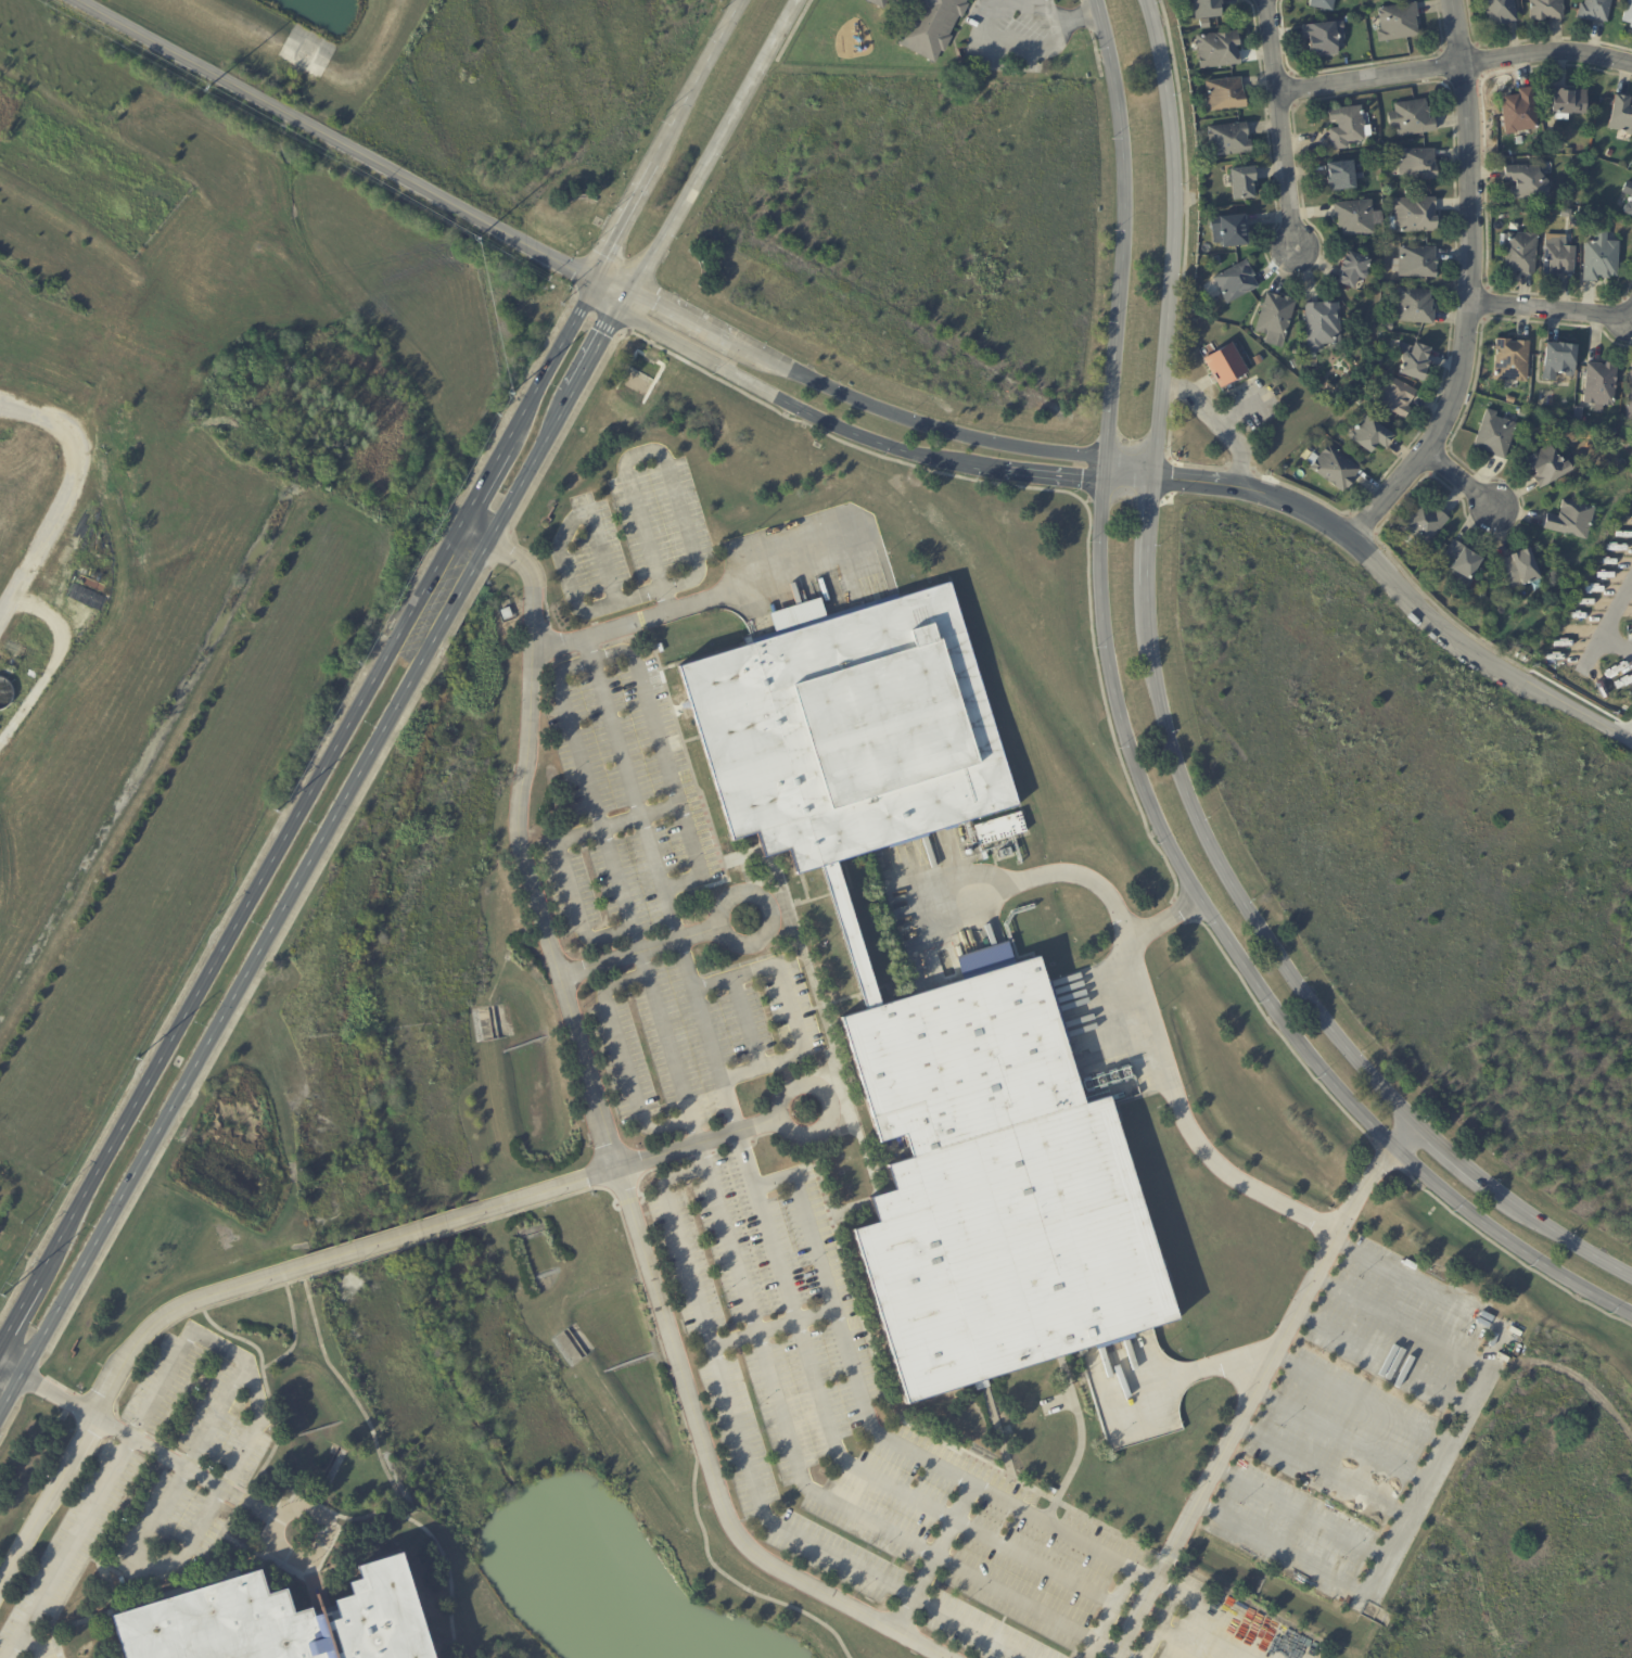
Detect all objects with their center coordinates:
building: (1323, 4)
building: (1546, 10)
building: (1595, 10)
building: (1204, 11)
building: (1502, 12)
building: (1629, 14)
road: (990, 15)
building: (1346, 21)
building: (1399, 23)
building: (928, 24)
building: (1631, 27)
building: (1324, 39)
building: (1219, 50)
road: (1455, 66)
building: (1226, 94)
building: (1570, 102)
building: (1520, 113)
building: (1622, 116)
building: (1413, 119)
road: (1282, 126)
building: (1347, 127)
road: (665, 140)
building: (1229, 140)
road: (329, 141)
building: (1570, 152)
building: (1610, 154)
road: (710, 156)
building: (1418, 164)
building: (1342, 177)
building: (1528, 181)
building: (1244, 183)
building: (1408, 191)
building: (1630, 202)
building: (1567, 214)
building: (1415, 216)
building: (1357, 218)
building: (1232, 231)
building: (1522, 255)
building: (1603, 259)
building: (1559, 260)
building: (1216, 262)
building: (1416, 263)
building: (1354, 271)
building: (1236, 282)
road: (1463, 286)
building: (1415, 307)
road: (1550, 315)
building: (1276, 320)
building: (1323, 327)
building: (1388, 327)
building: (1208, 350)
building: (1258, 360)
building: (1513, 361)
building: (1559, 362)
building: (1295, 364)
building: (1416, 364)
building: (1226, 366)
building: (1382, 367)
building: (1601, 386)
building: (1398, 399)
road: (864, 401)
building: (1360, 401)
building: (1512, 401)
building: (1630, 403)
building: (1523, 414)
road: (1222, 423)
road: (854, 434)
building: (1369, 436)
building: (1495, 436)
road: (654, 450)
building: (1548, 468)
building: (1335, 470)
road: (1459, 483)
landfill: (48, 519)
building: (1571, 521)
building: (1424, 525)
road: (470, 533)
road: (564, 560)
building: (1463, 563)
building: (1521, 571)
road: (1401, 588)
building: (1483, 596)
building: (1490, 601)
road: (700, 602)
building: (506, 613)
road: (1606, 625)
road: (1617, 642)
building: (660, 648)
road: (1168, 728)
building: (842, 732)
road: (527, 750)
road: (1130, 757)
road: (664, 763)
road: (632, 790)
road: (592, 796)
road: (295, 809)
building: (998, 828)
road: (557, 852)
road: (306, 860)
road: (726, 894)
road: (566, 995)
road: (789, 1003)
road: (1146, 1005)
road: (819, 1022)
road: (706, 1036)
road: (670, 1047)
road: (621, 1057)
road: (786, 1088)
road: (1401, 1135)
road: (626, 1165)
building: (986, 1187)
road: (417, 1232)
road: (420, 1241)
road: (641, 1291)
road: (1399, 1321)
road: (293, 1334)
road: (248, 1343)
road: (125, 1357)
road: (10, 1370)
road: (1248, 1400)
road: (867, 1424)
road: (994, 1426)
building: (1010, 1431)
road: (1339, 1434)
road: (375, 1443)
road: (148, 1447)
road: (1433, 1462)
road: (854, 1466)
road: (707, 1468)
road: (749, 1469)
road: (802, 1484)
road: (393, 1503)
road: (1298, 1513)
road: (331, 1515)
road: (272, 1530)
road: (67, 1547)
road: (760, 1598)
road: (1231, 1618)
building: (273, 1621)
road: (1160, 1623)
road: (30, 1640)
road: (1187, 1642)
road: (1088, 1648)
road: (1122, 1655)

